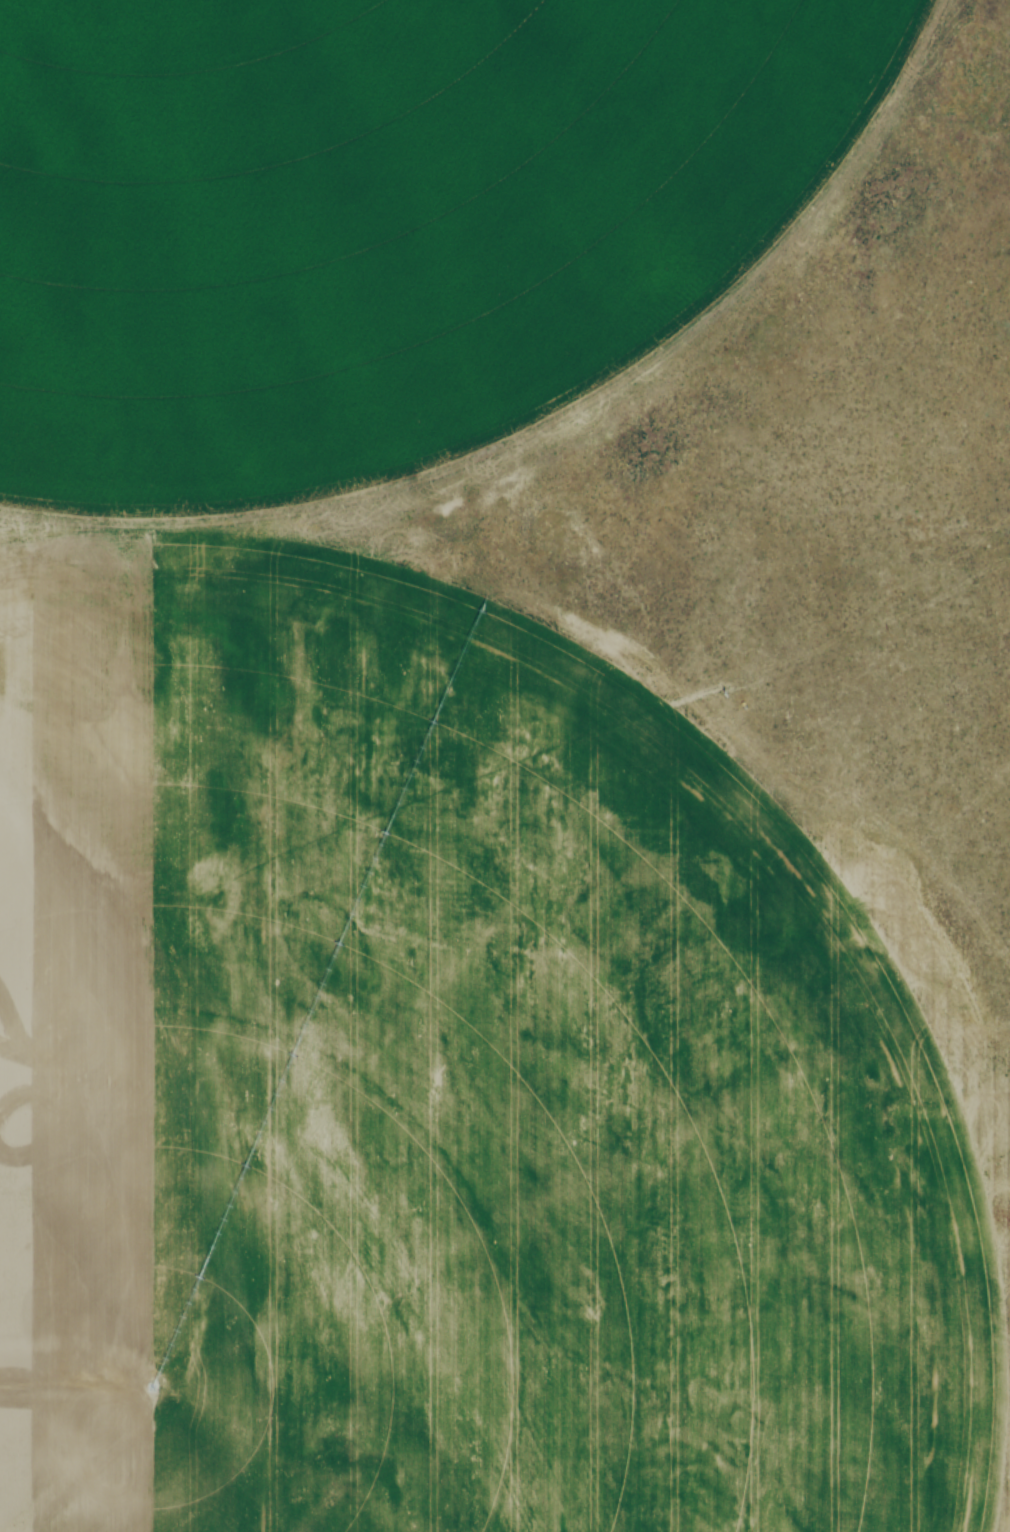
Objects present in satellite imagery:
crop: (366, 244)
crop: (100, 1226)

